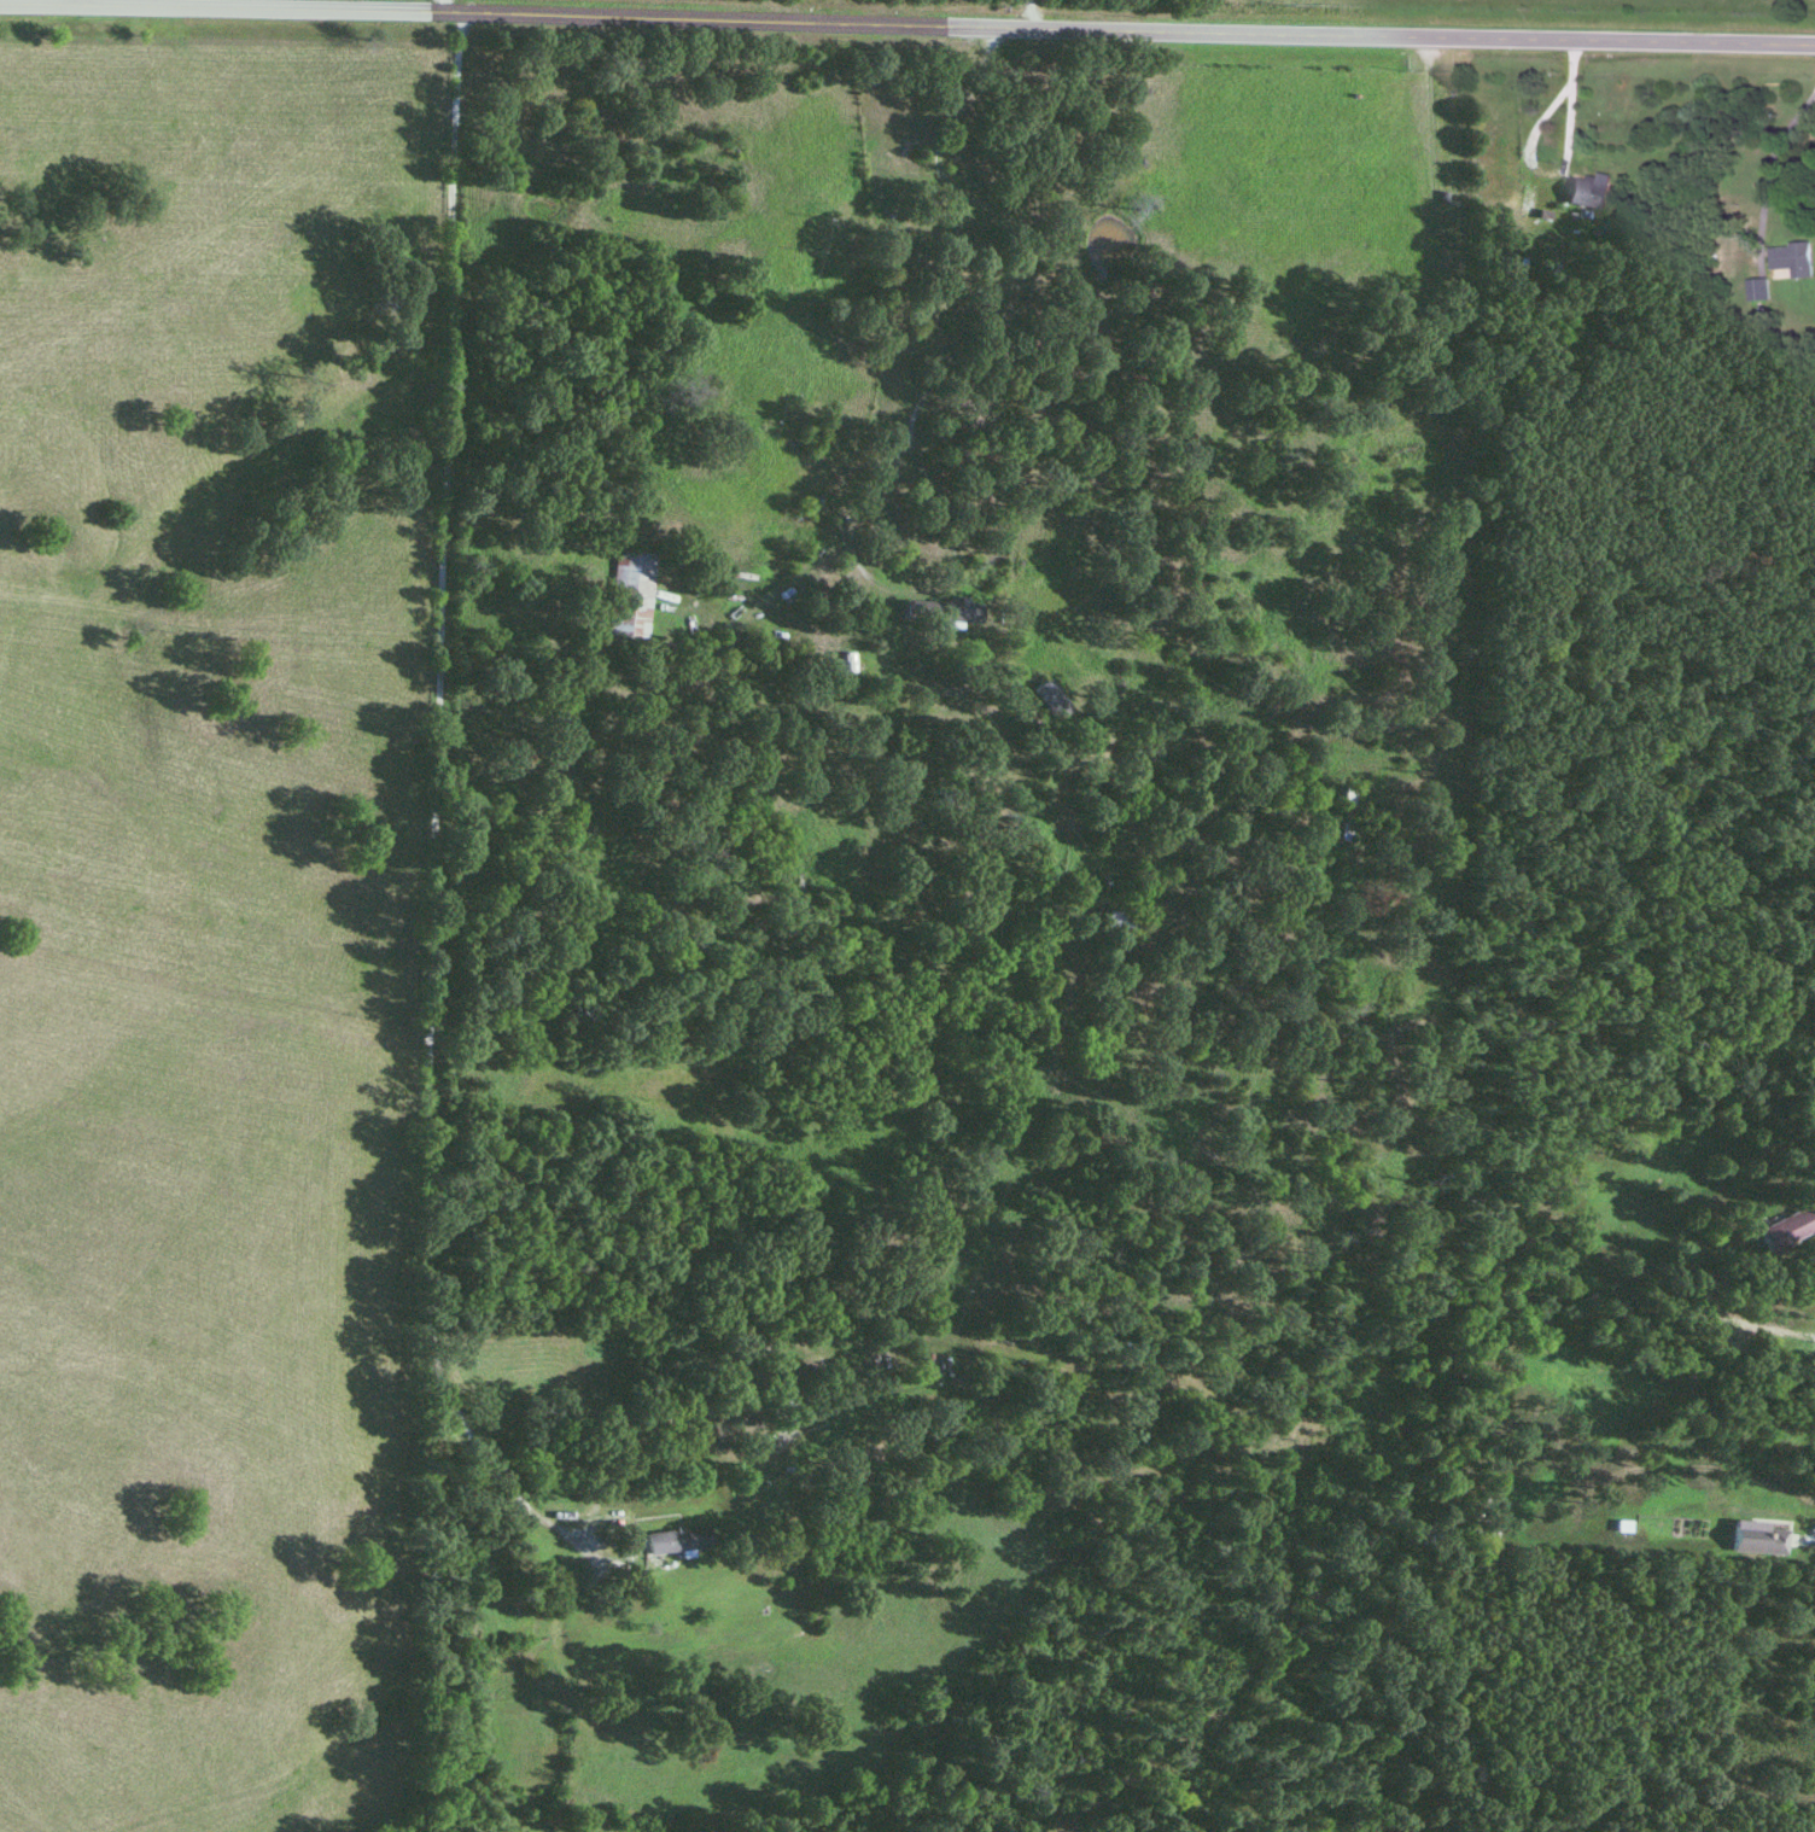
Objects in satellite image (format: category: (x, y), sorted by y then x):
road: (434, 7)
road: (906, 28)
road: (1772, 156)
road: (1557, 167)
building: (1582, 192)
road: (1015, 231)
building: (1786, 261)
building: (1755, 291)
road: (873, 587)
building: (626, 595)
building: (935, 612)
building: (1045, 699)
building: (1348, 798)
road: (428, 809)
building: (1111, 923)
building: (1781, 1227)
road: (1811, 1534)
building: (670, 1541)

